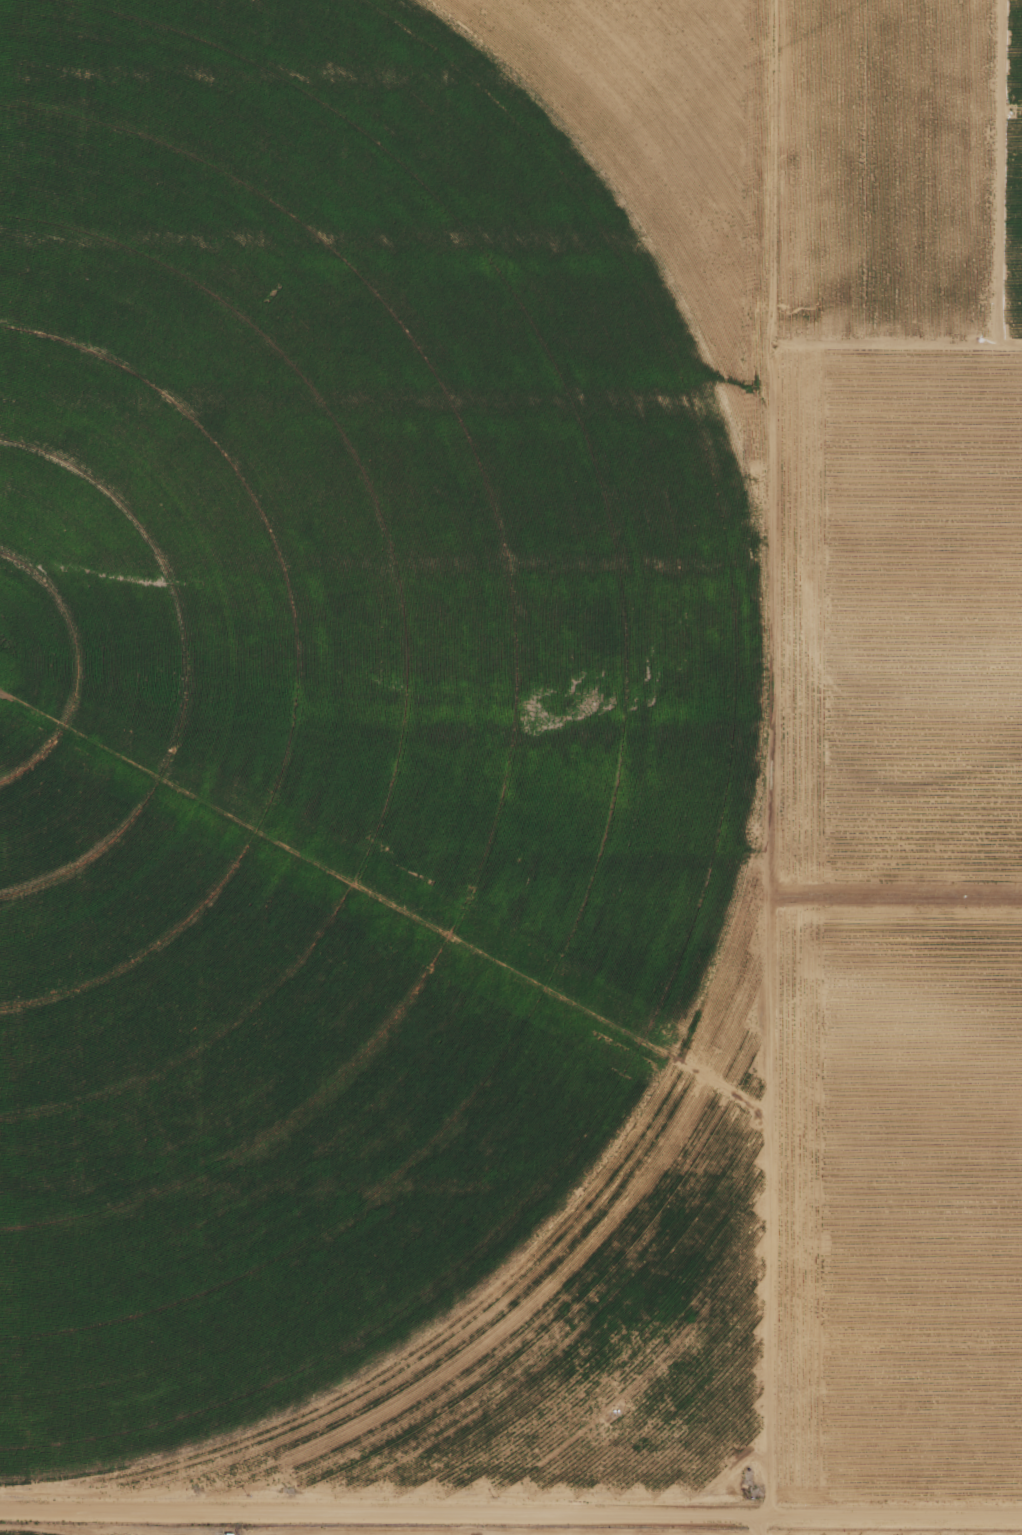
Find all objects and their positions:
road: (510, 1521)
road: (762, 1530)

